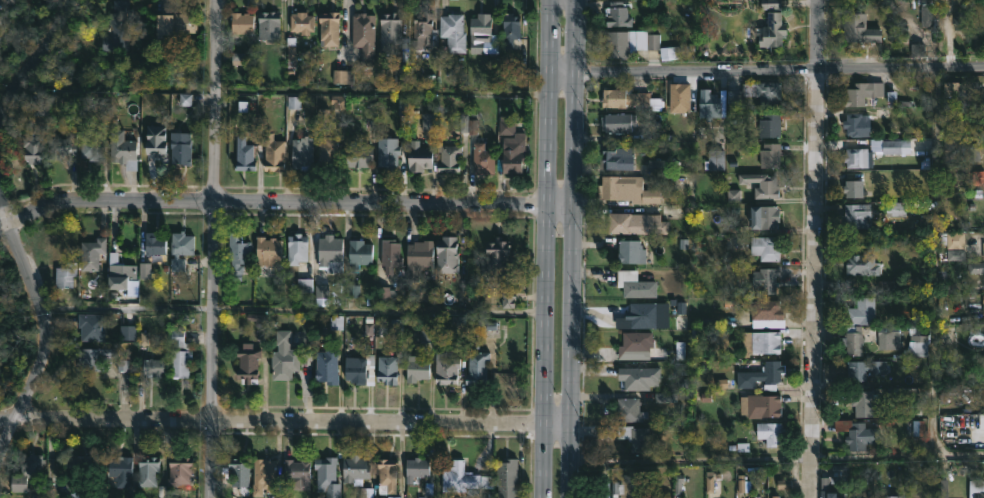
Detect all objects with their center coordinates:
road: (5, 11)
building: (618, 13)
building: (928, 17)
building: (303, 21)
building: (771, 21)
building: (177, 22)
building: (243, 22)
building: (118, 25)
building: (269, 26)
building: (329, 28)
building: (510, 28)
building: (390, 30)
building: (422, 30)
building: (859, 30)
building: (454, 32)
building: (483, 33)
building: (364, 35)
building: (630, 42)
road: (32, 58)
road: (766, 69)
building: (955, 90)
road: (116, 91)
building: (862, 92)
road: (382, 94)
building: (756, 94)
building: (680, 97)
building: (630, 100)
building: (710, 104)
building: (619, 122)
building: (859, 124)
building: (771, 125)
building: (652, 131)
building: (93, 143)
building: (62, 146)
building: (890, 146)
building: (181, 147)
building: (33, 149)
building: (328, 151)
building: (124, 152)
building: (271, 152)
building: (302, 153)
building: (389, 153)
building: (515, 153)
building: (360, 154)
building: (245, 155)
building: (770, 155)
building: (449, 157)
building: (858, 157)
building: (420, 158)
building: (619, 158)
building: (483, 159)
building: (715, 159)
building: (762, 184)
building: (627, 189)
building: (855, 191)
road: (283, 202)
building: (858, 215)
building: (767, 216)
building: (634, 224)
building: (155, 244)
building: (953, 245)
building: (298, 248)
road: (544, 248)
building: (768, 248)
road: (813, 248)
road: (214, 249)
road: (571, 249)
building: (181, 250)
building: (268, 250)
building: (237, 252)
building: (93, 253)
building: (331, 253)
building: (361, 253)
building: (633, 253)
building: (448, 255)
building: (390, 256)
building: (419, 258)
building: (497, 258)
building: (862, 263)
road: (937, 265)
building: (66, 275)
building: (122, 275)
building: (766, 279)
building: (635, 284)
building: (765, 309)
building: (870, 311)
road: (291, 313)
building: (641, 316)
road: (40, 324)
building: (92, 326)
building: (129, 335)
building: (889, 337)
building: (766, 341)
building: (854, 343)
building: (918, 345)
building: (636, 346)
building: (181, 353)
building: (285, 354)
building: (96, 357)
building: (249, 365)
building: (125, 366)
building: (327, 366)
building: (477, 366)
building: (155, 367)
building: (418, 368)
building: (864, 368)
building: (447, 369)
building: (360, 370)
building: (388, 370)
building: (762, 375)
building: (635, 378)
building: (981, 392)
building: (865, 403)
building: (761, 405)
building: (631, 410)
road: (284, 422)
building: (772, 433)
building: (856, 434)
building: (635, 436)
road: (776, 463)
building: (417, 468)
building: (120, 470)
building: (181, 470)
building: (356, 470)
building: (81, 471)
building: (240, 472)
building: (150, 473)
building: (298, 474)
building: (840, 474)
building: (387, 475)
building: (23, 476)
building: (264, 476)
building: (328, 477)
building: (507, 478)
building: (460, 479)
building: (825, 487)
building: (366, 492)
building: (979, 495)
building: (394, 496)
building: (776, 496)
building: (894, 496)
building: (840, 497)

